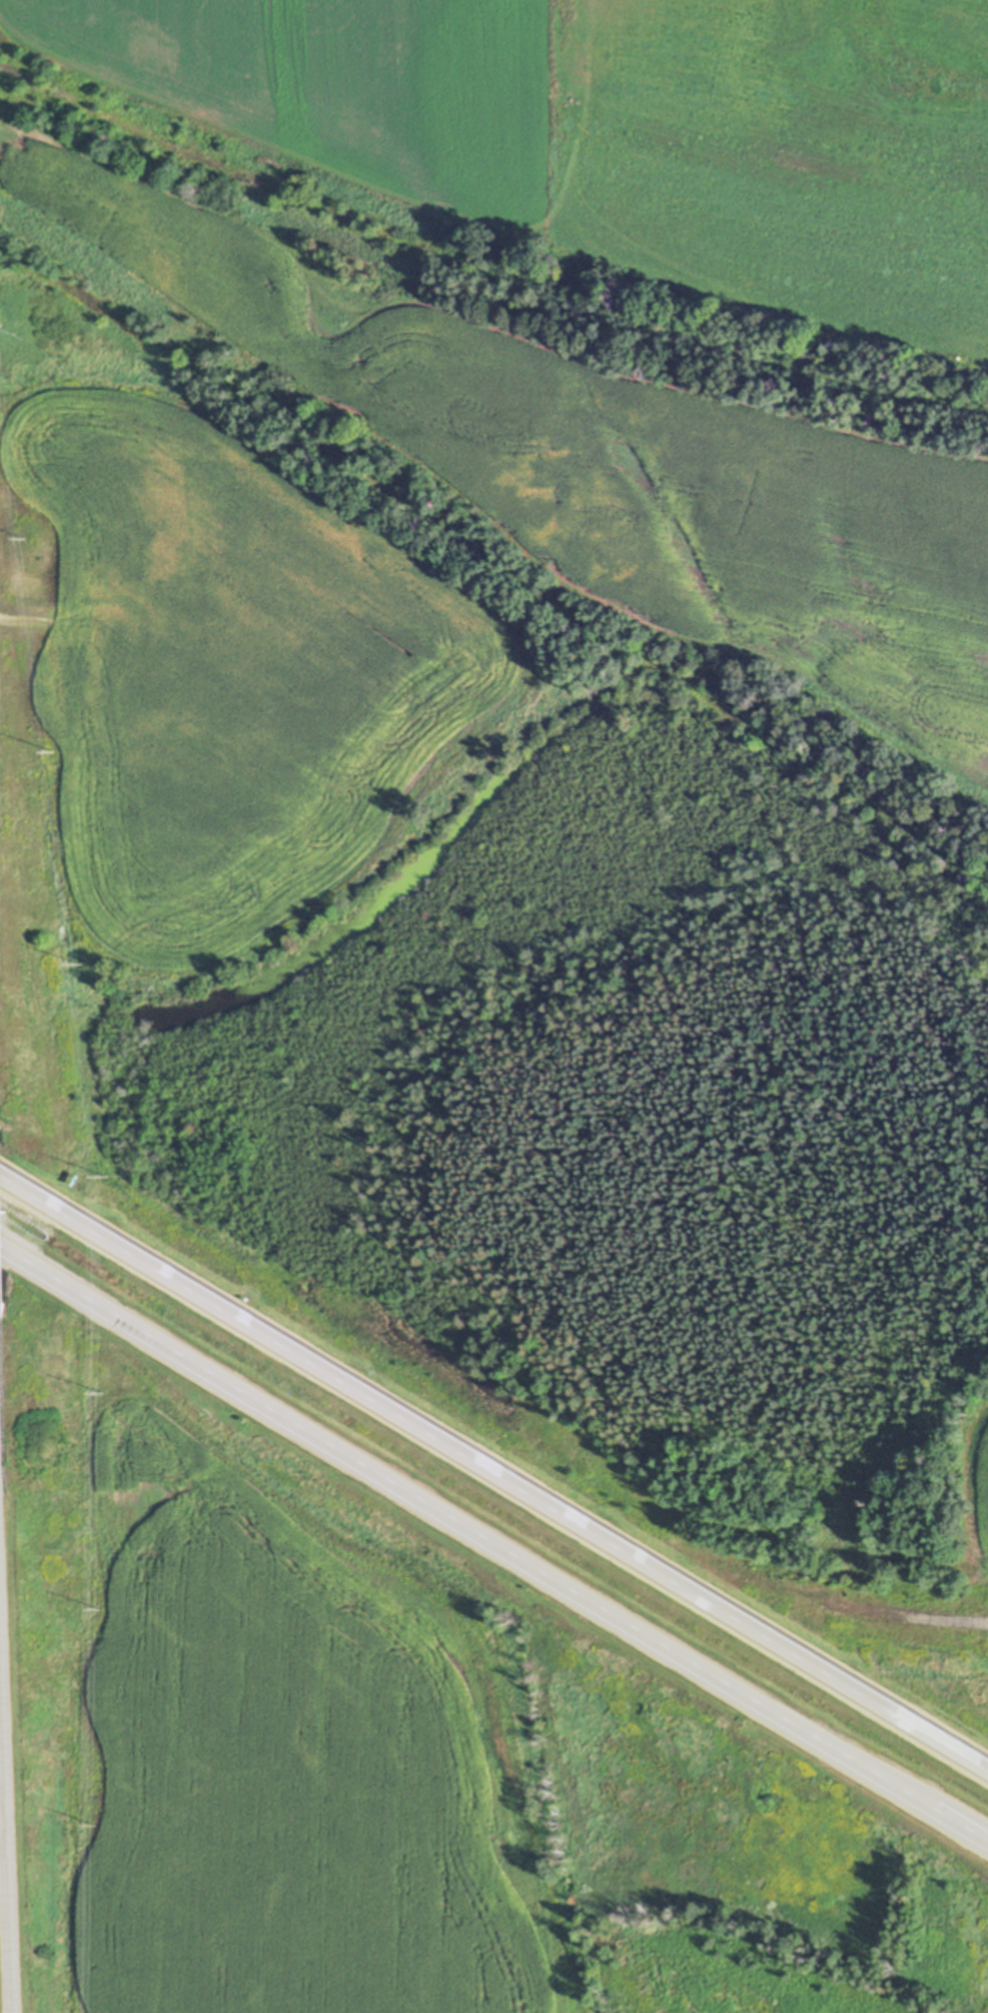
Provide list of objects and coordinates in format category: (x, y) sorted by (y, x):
railway: (481, 272)
road: (493, 1469)
road: (494, 1541)
road: (6, 1747)

